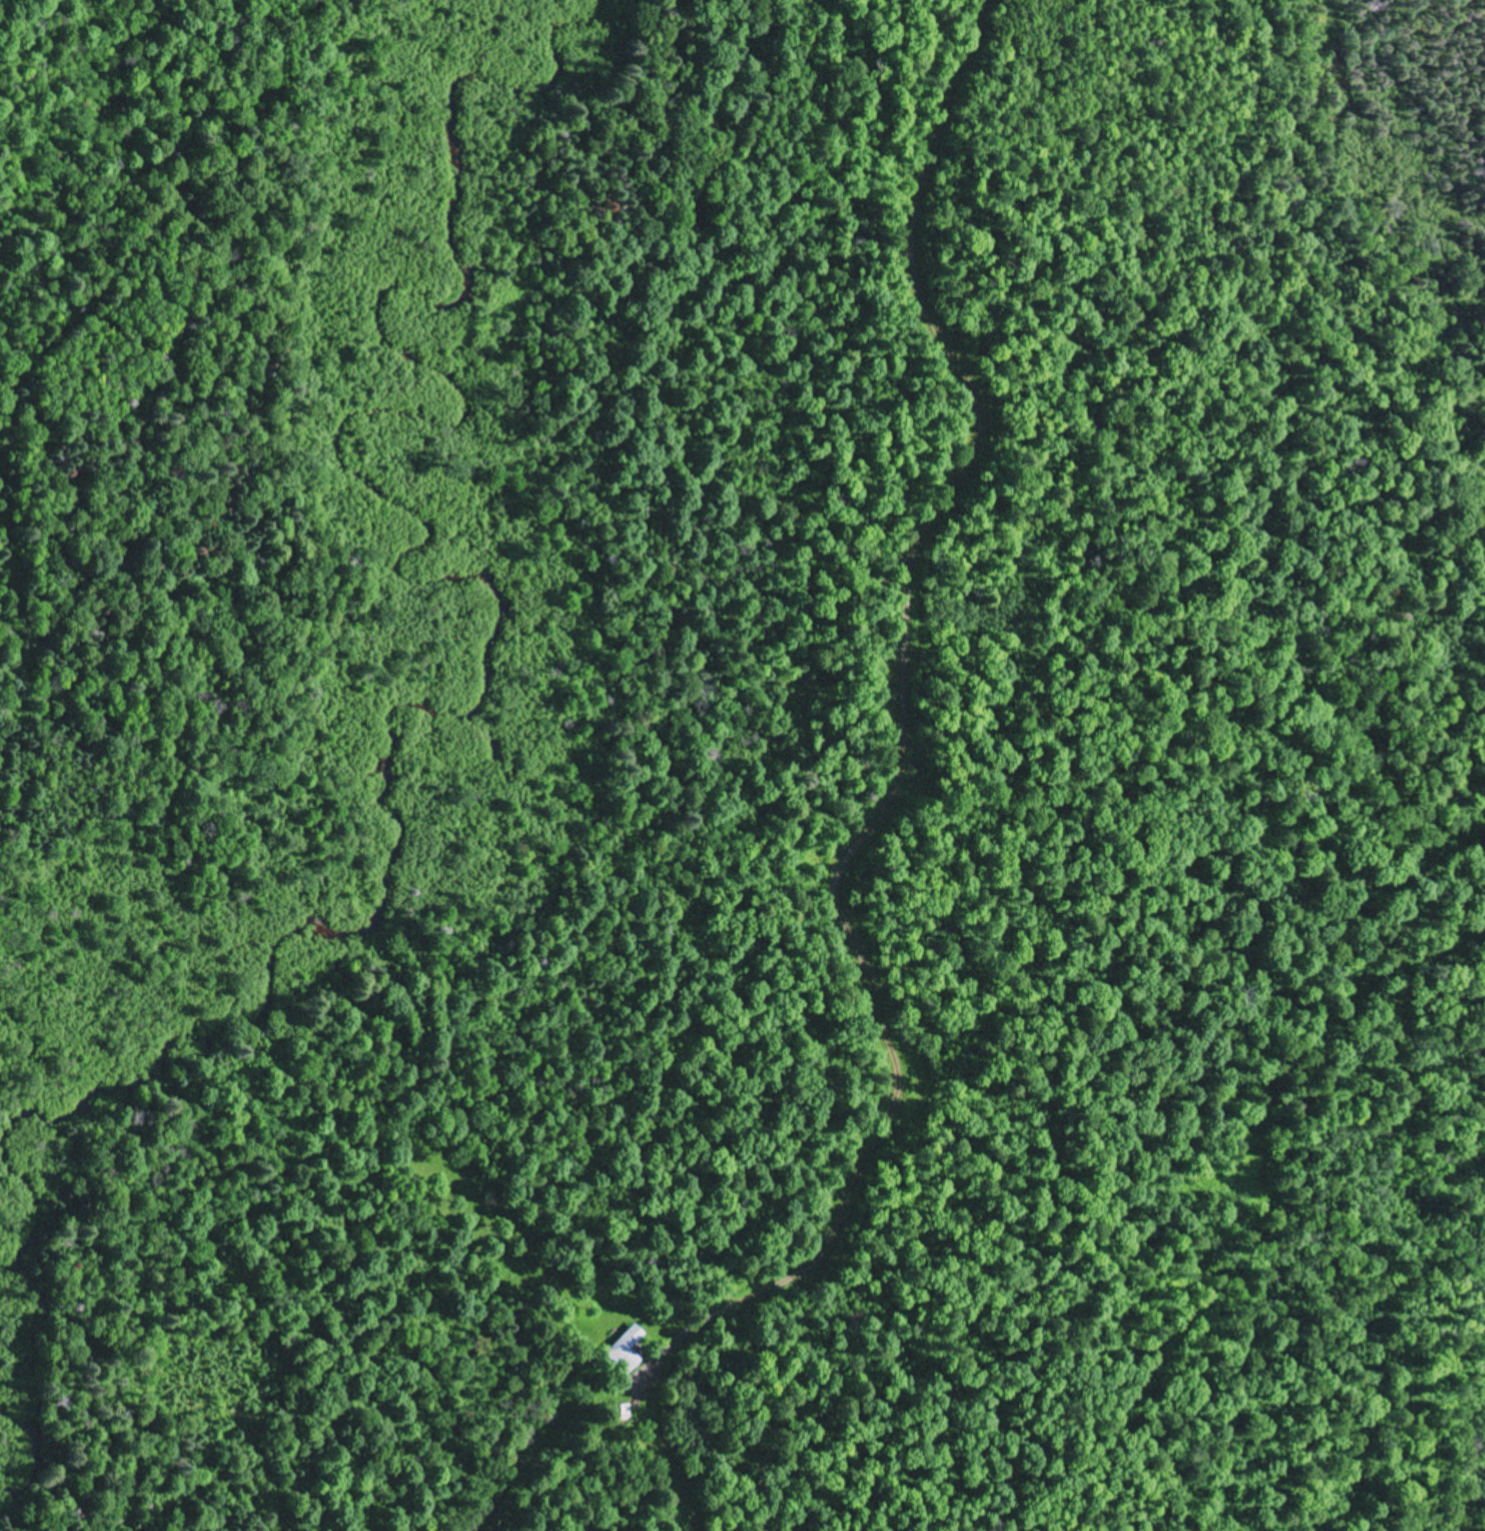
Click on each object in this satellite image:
road: (924, 765)

